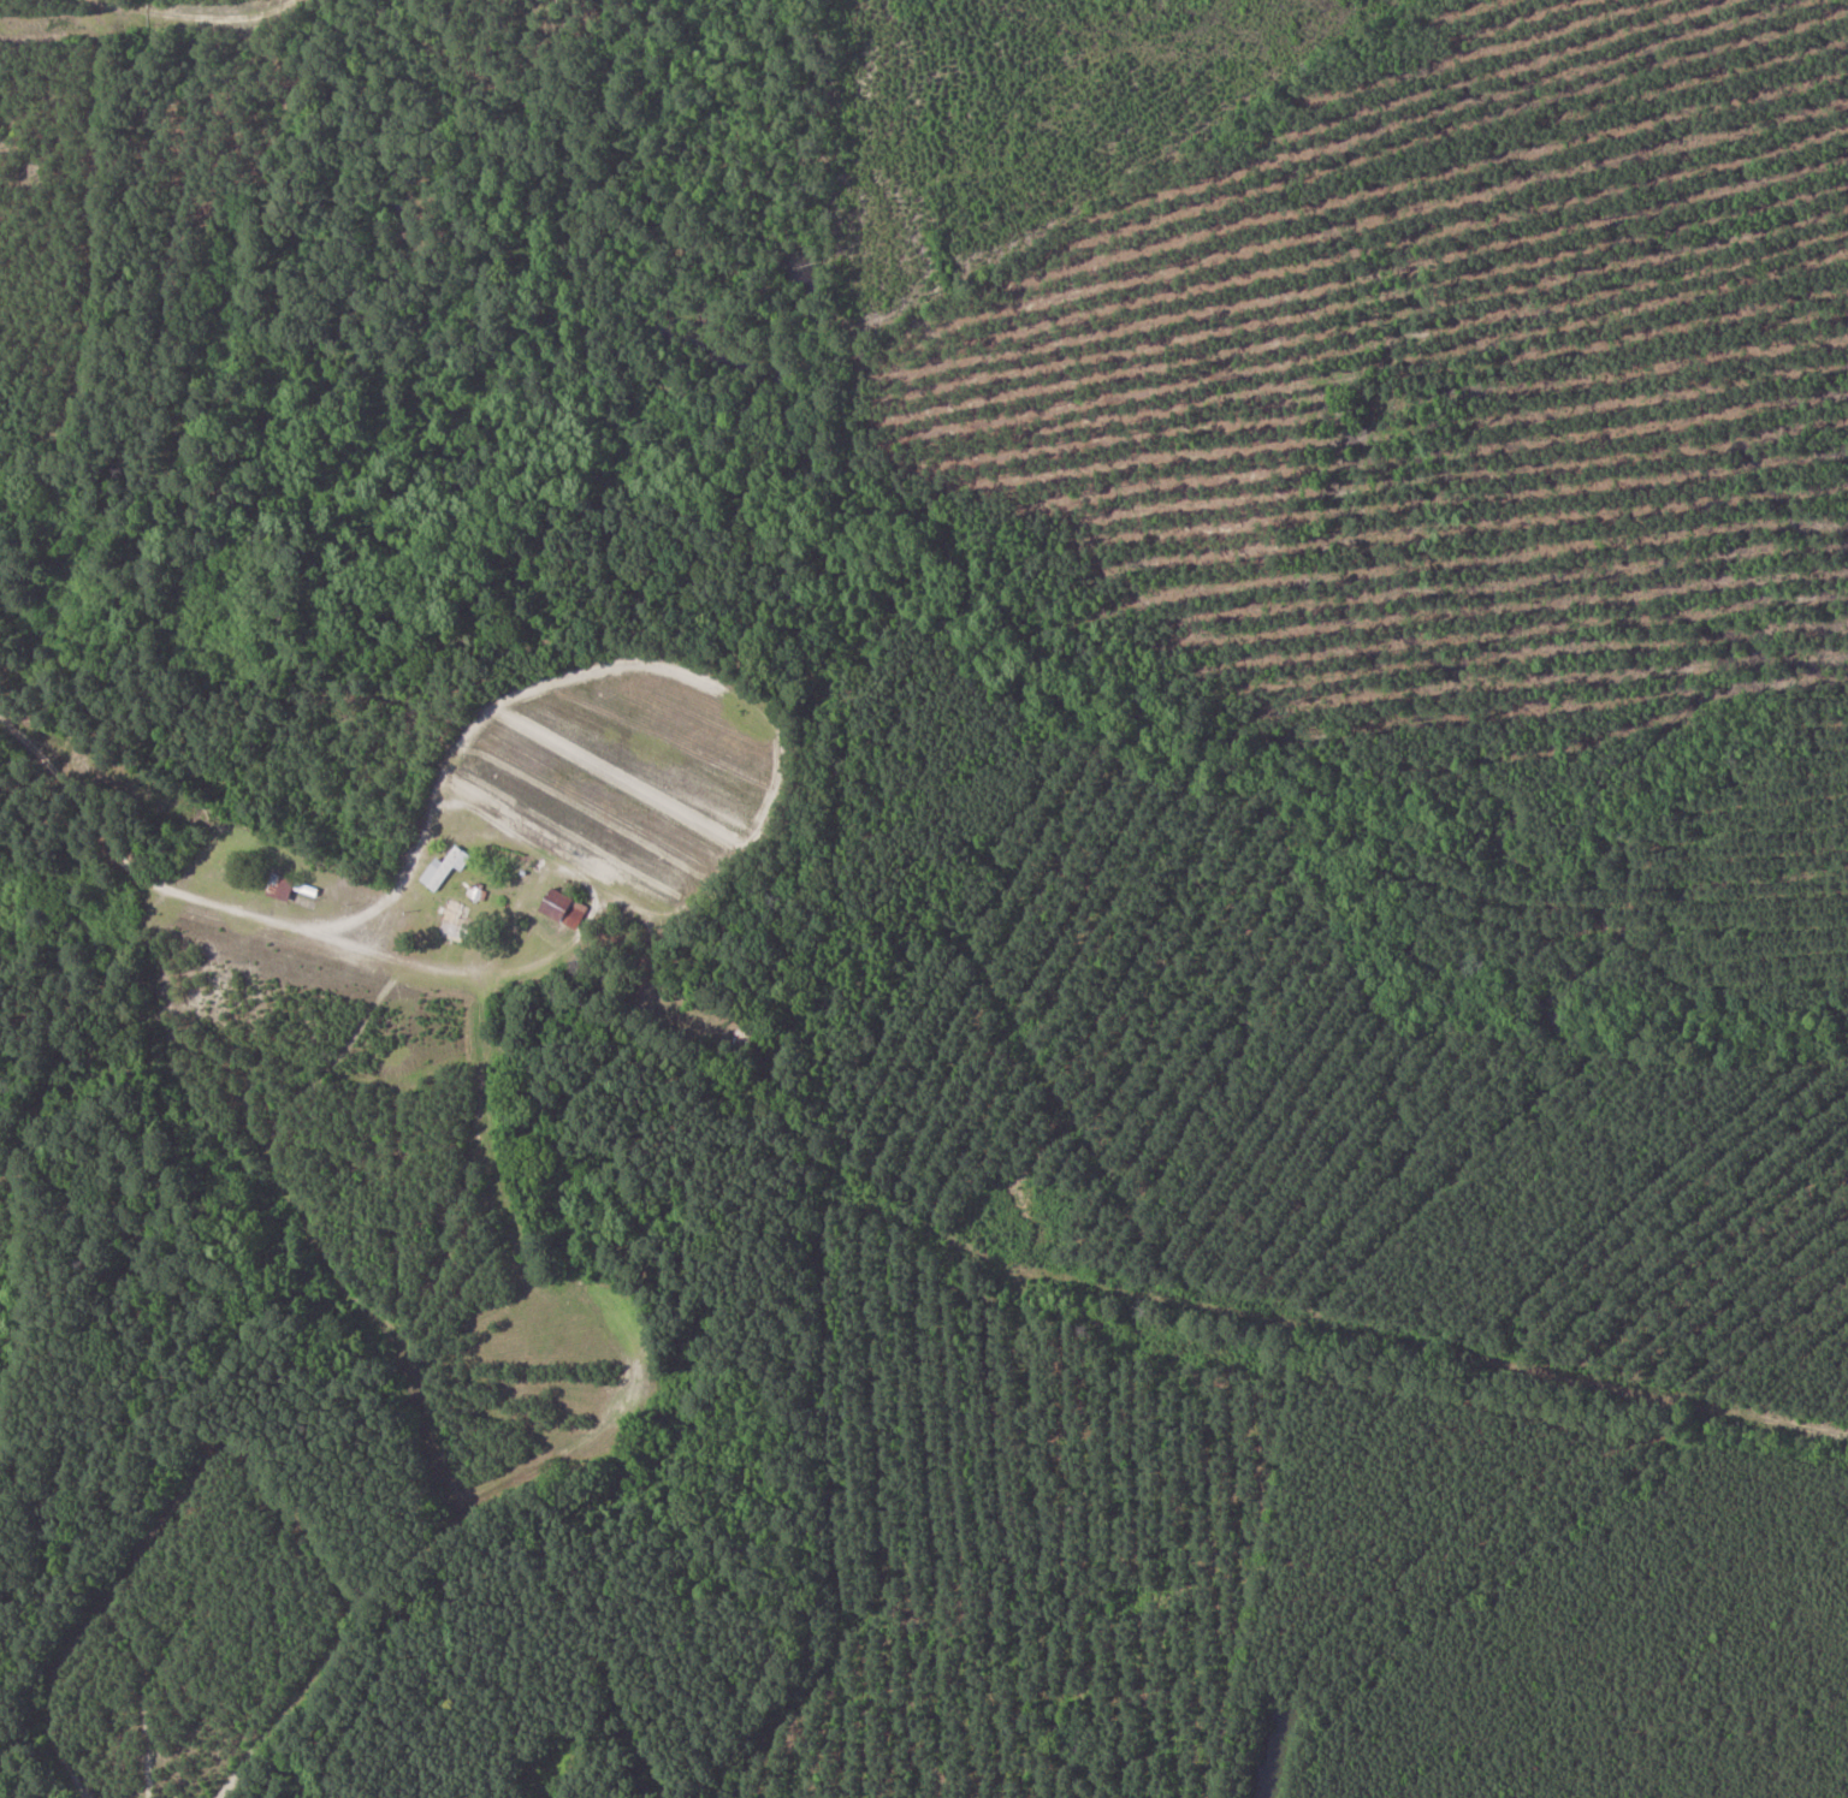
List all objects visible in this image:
road: (200, 18)
road: (782, 752)
road: (117, 854)
building: (440, 868)
building: (274, 886)
building: (557, 908)
building: (451, 915)
road: (1418, 1315)

